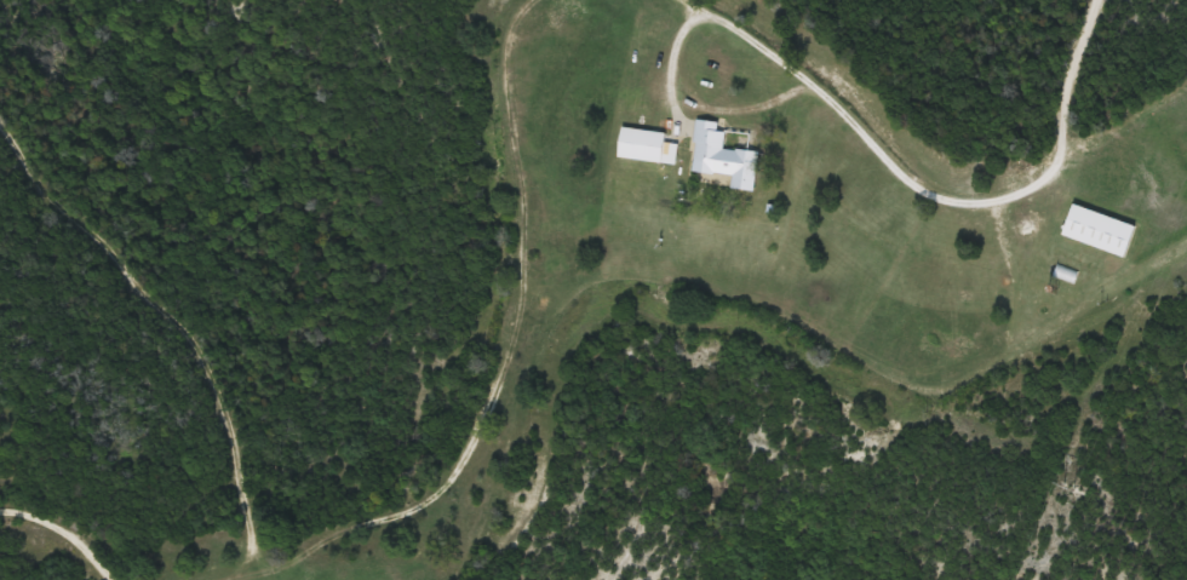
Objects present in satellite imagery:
building: (652, 148)
building: (728, 157)
building: (1102, 231)
power tower: (1066, 488)

